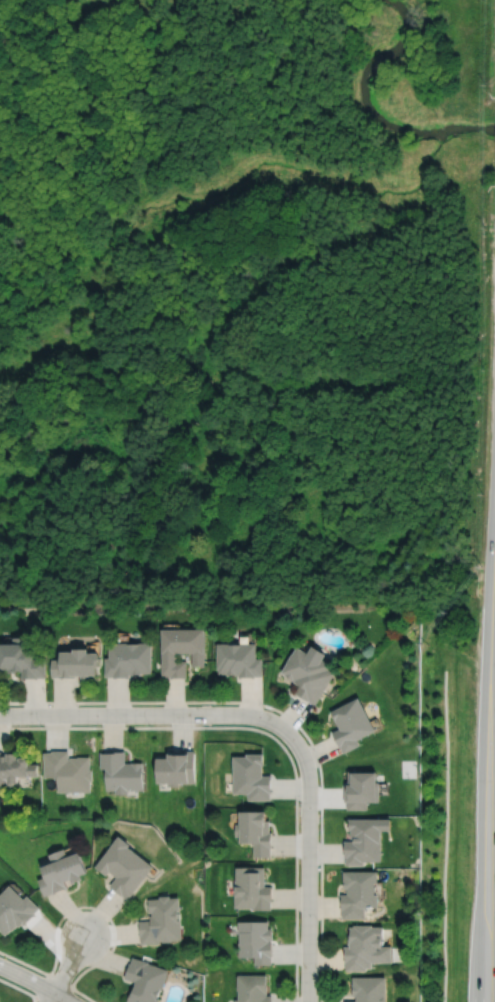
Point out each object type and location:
road: (490, 636)
building: (180, 648)
building: (20, 658)
building: (127, 658)
building: (238, 658)
building: (74, 662)
building: (308, 673)
street lamp: (263, 708)
road: (149, 715)
road: (289, 718)
building: (351, 723)
street lamp: (40, 725)
street lamp: (149, 725)
road: (271, 736)
building: (14, 767)
building: (175, 767)
building: (66, 770)
building: (120, 772)
building: (250, 776)
building: (361, 788)
street lamp: (298, 802)
building: (254, 831)
road: (446, 834)
building: (365, 839)
road: (488, 865)
building: (123, 867)
road: (308, 868)
building: (60, 871)
building: (251, 888)
building: (358, 893)
road: (86, 907)
building: (15, 910)
building: (160, 921)
street lamp: (318, 921)
building: (255, 941)
street lamp: (110, 947)
building: (366, 947)
road: (69, 964)
road: (52, 977)
building: (144, 981)
road: (36, 982)
building: (252, 988)
road: (20, 989)
building: (369, 989)
road: (52, 997)

